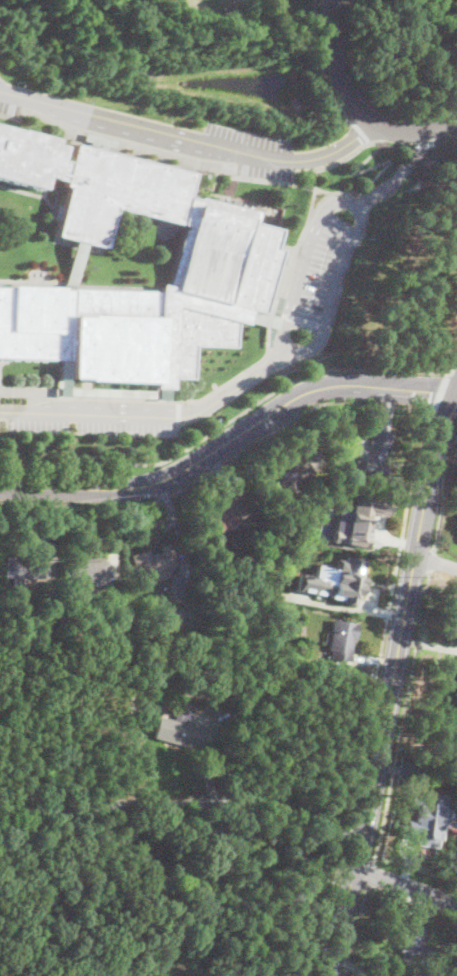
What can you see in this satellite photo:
building: (426, 14)
park: (232, 22)
road: (356, 106)
road: (190, 140)
building: (98, 141)
road: (394, 173)
road: (352, 206)
building: (223, 267)
road: (451, 359)
road: (439, 390)
road: (450, 409)
road: (142, 416)
road: (225, 422)
road: (229, 440)
building: (372, 456)
road: (220, 469)
building: (286, 476)
road: (443, 499)
road: (425, 500)
building: (228, 516)
building: (355, 523)
building: (455, 534)
road: (430, 560)
road: (435, 561)
building: (154, 564)
building: (21, 568)
building: (88, 572)
building: (336, 579)
building: (176, 589)
road: (345, 606)
building: (288, 619)
building: (342, 639)
building: (456, 692)
road: (372, 693)
road: (403, 714)
building: (180, 729)
road: (374, 776)
road: (184, 802)
building: (427, 818)
road: (371, 871)
road: (406, 885)
road: (356, 931)
building: (413, 943)
building: (426, 964)
building: (386, 973)
building: (0, 975)

